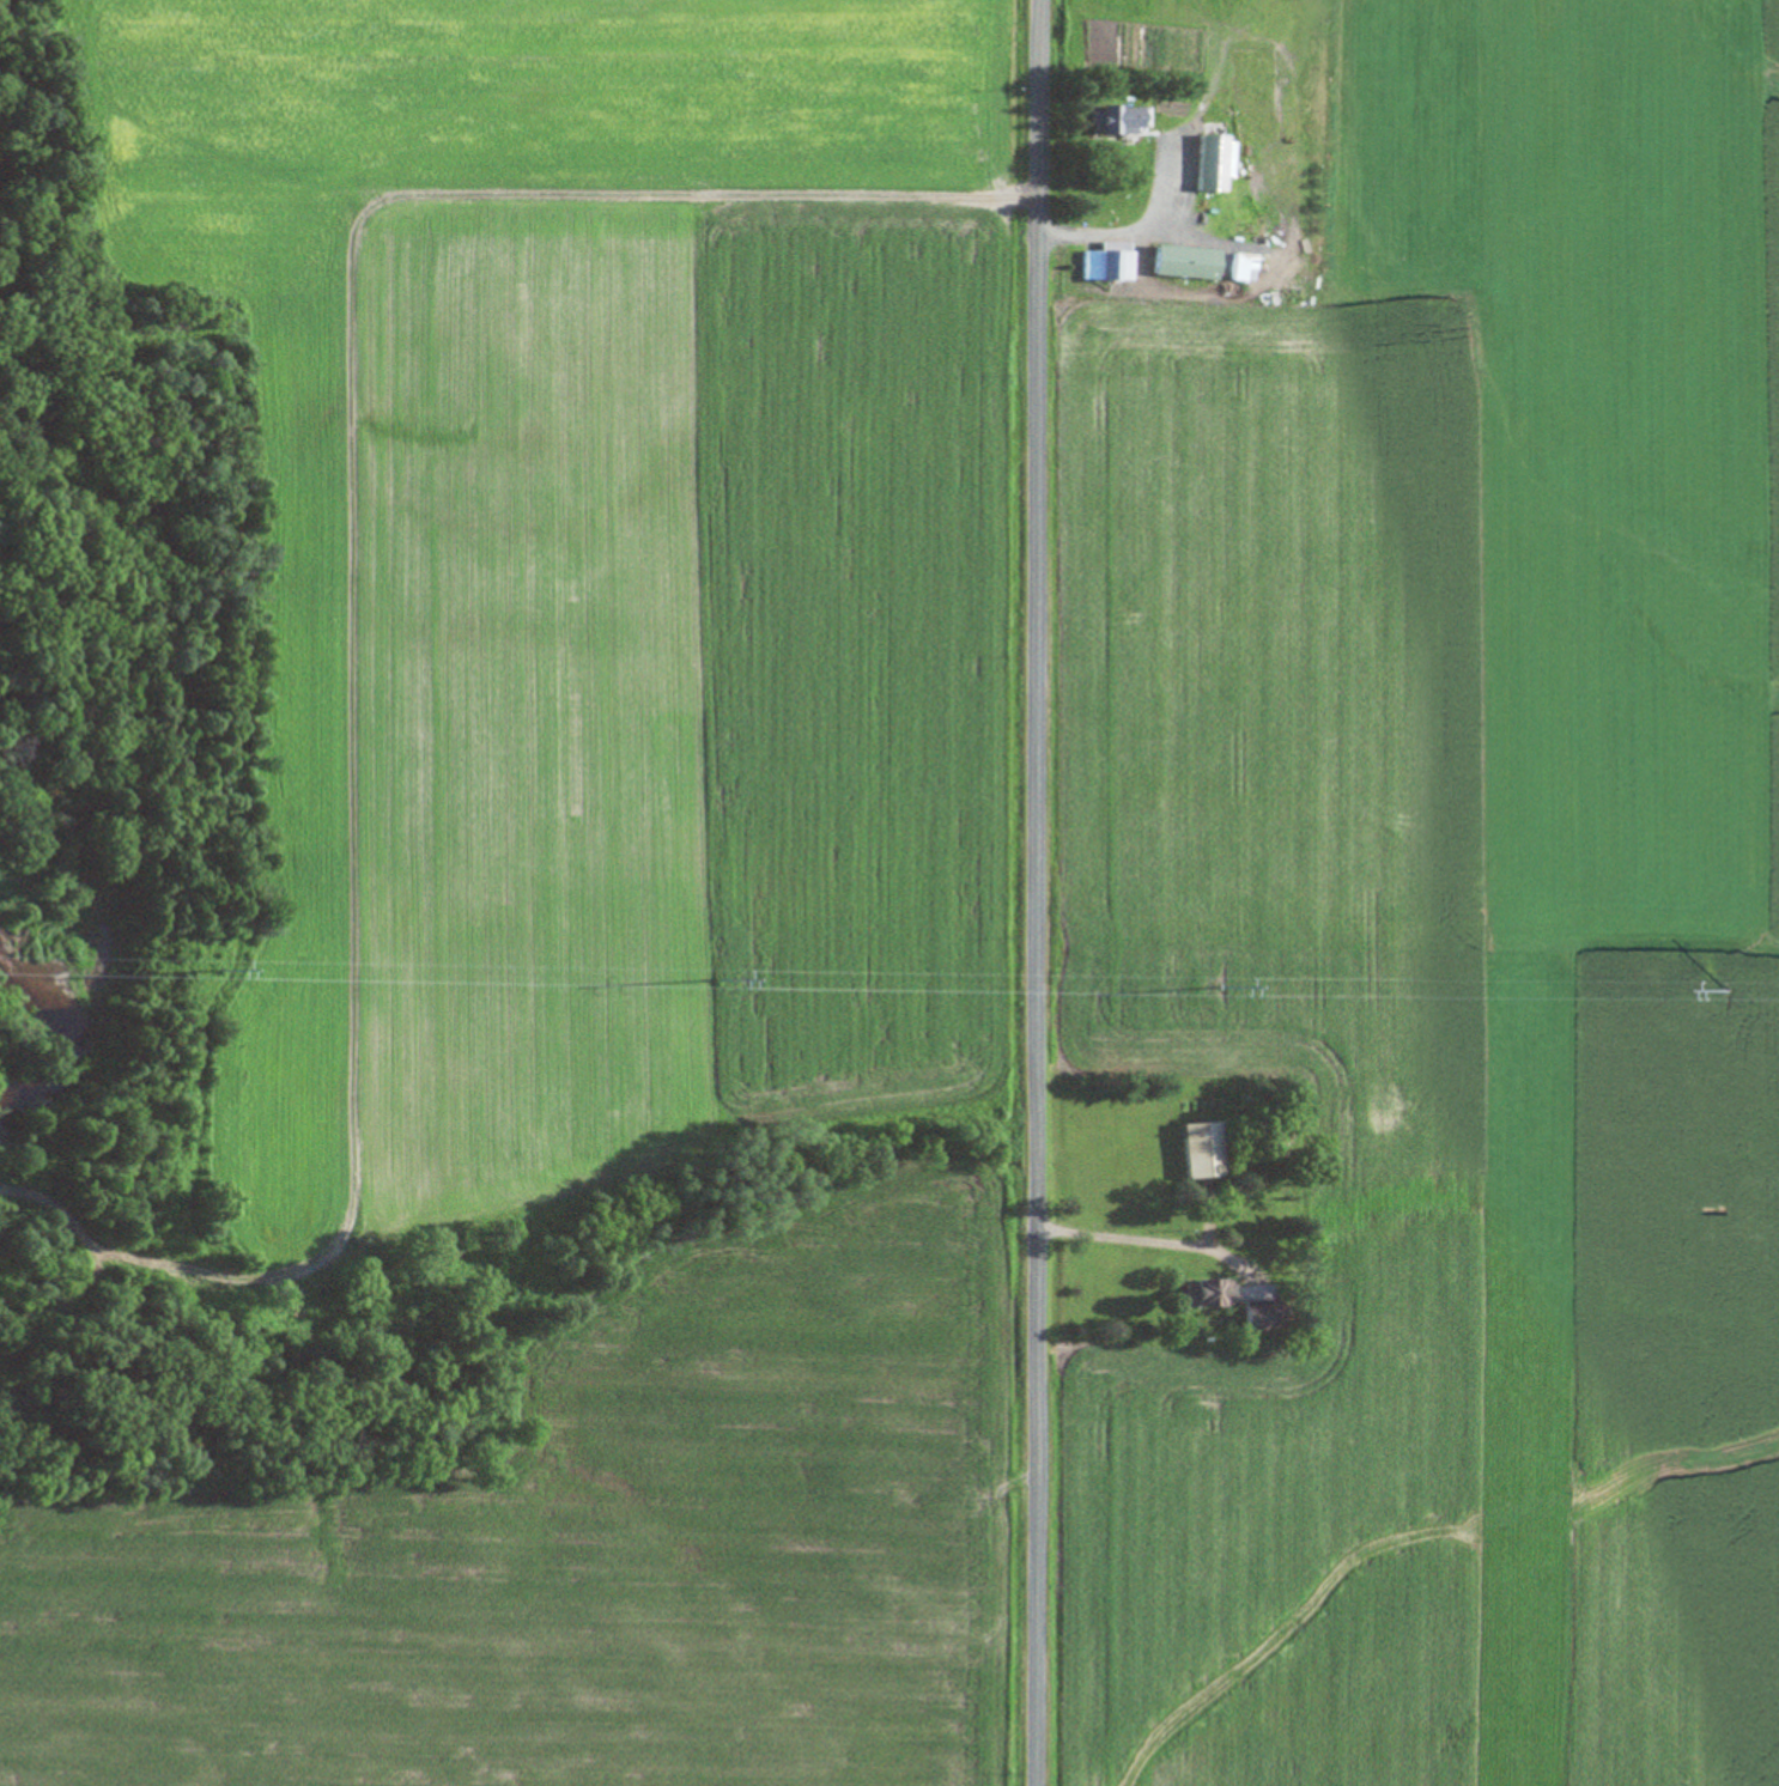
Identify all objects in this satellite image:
building: (1171, 105)
building: (1117, 119)
road: (1139, 226)
building: (1185, 262)
building: (1107, 265)
building: (1239, 267)
road: (1037, 893)
river: (121, 1004)
building: (1202, 1150)
road: (1143, 1239)
building: (1207, 1293)
building: (1263, 1316)

